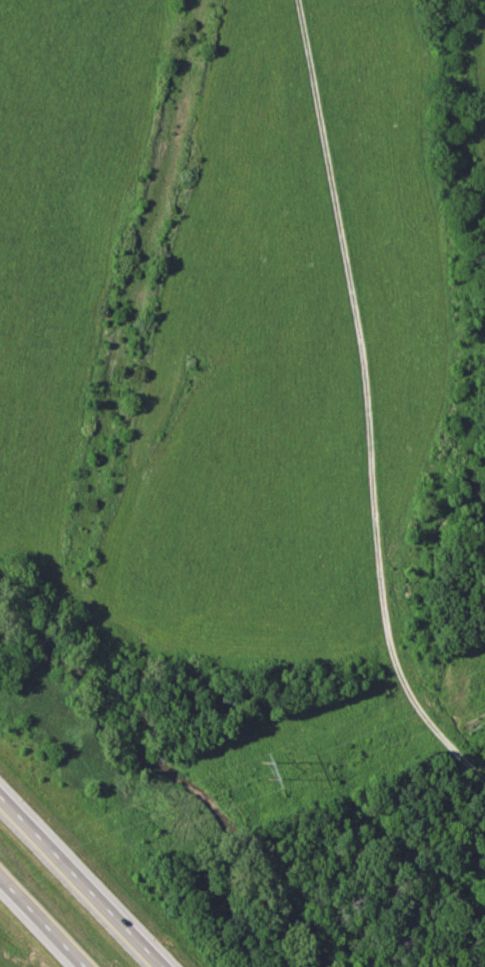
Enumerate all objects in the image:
road: (366, 403)
power tower: (264, 768)
road: (87, 876)
road: (44, 920)

